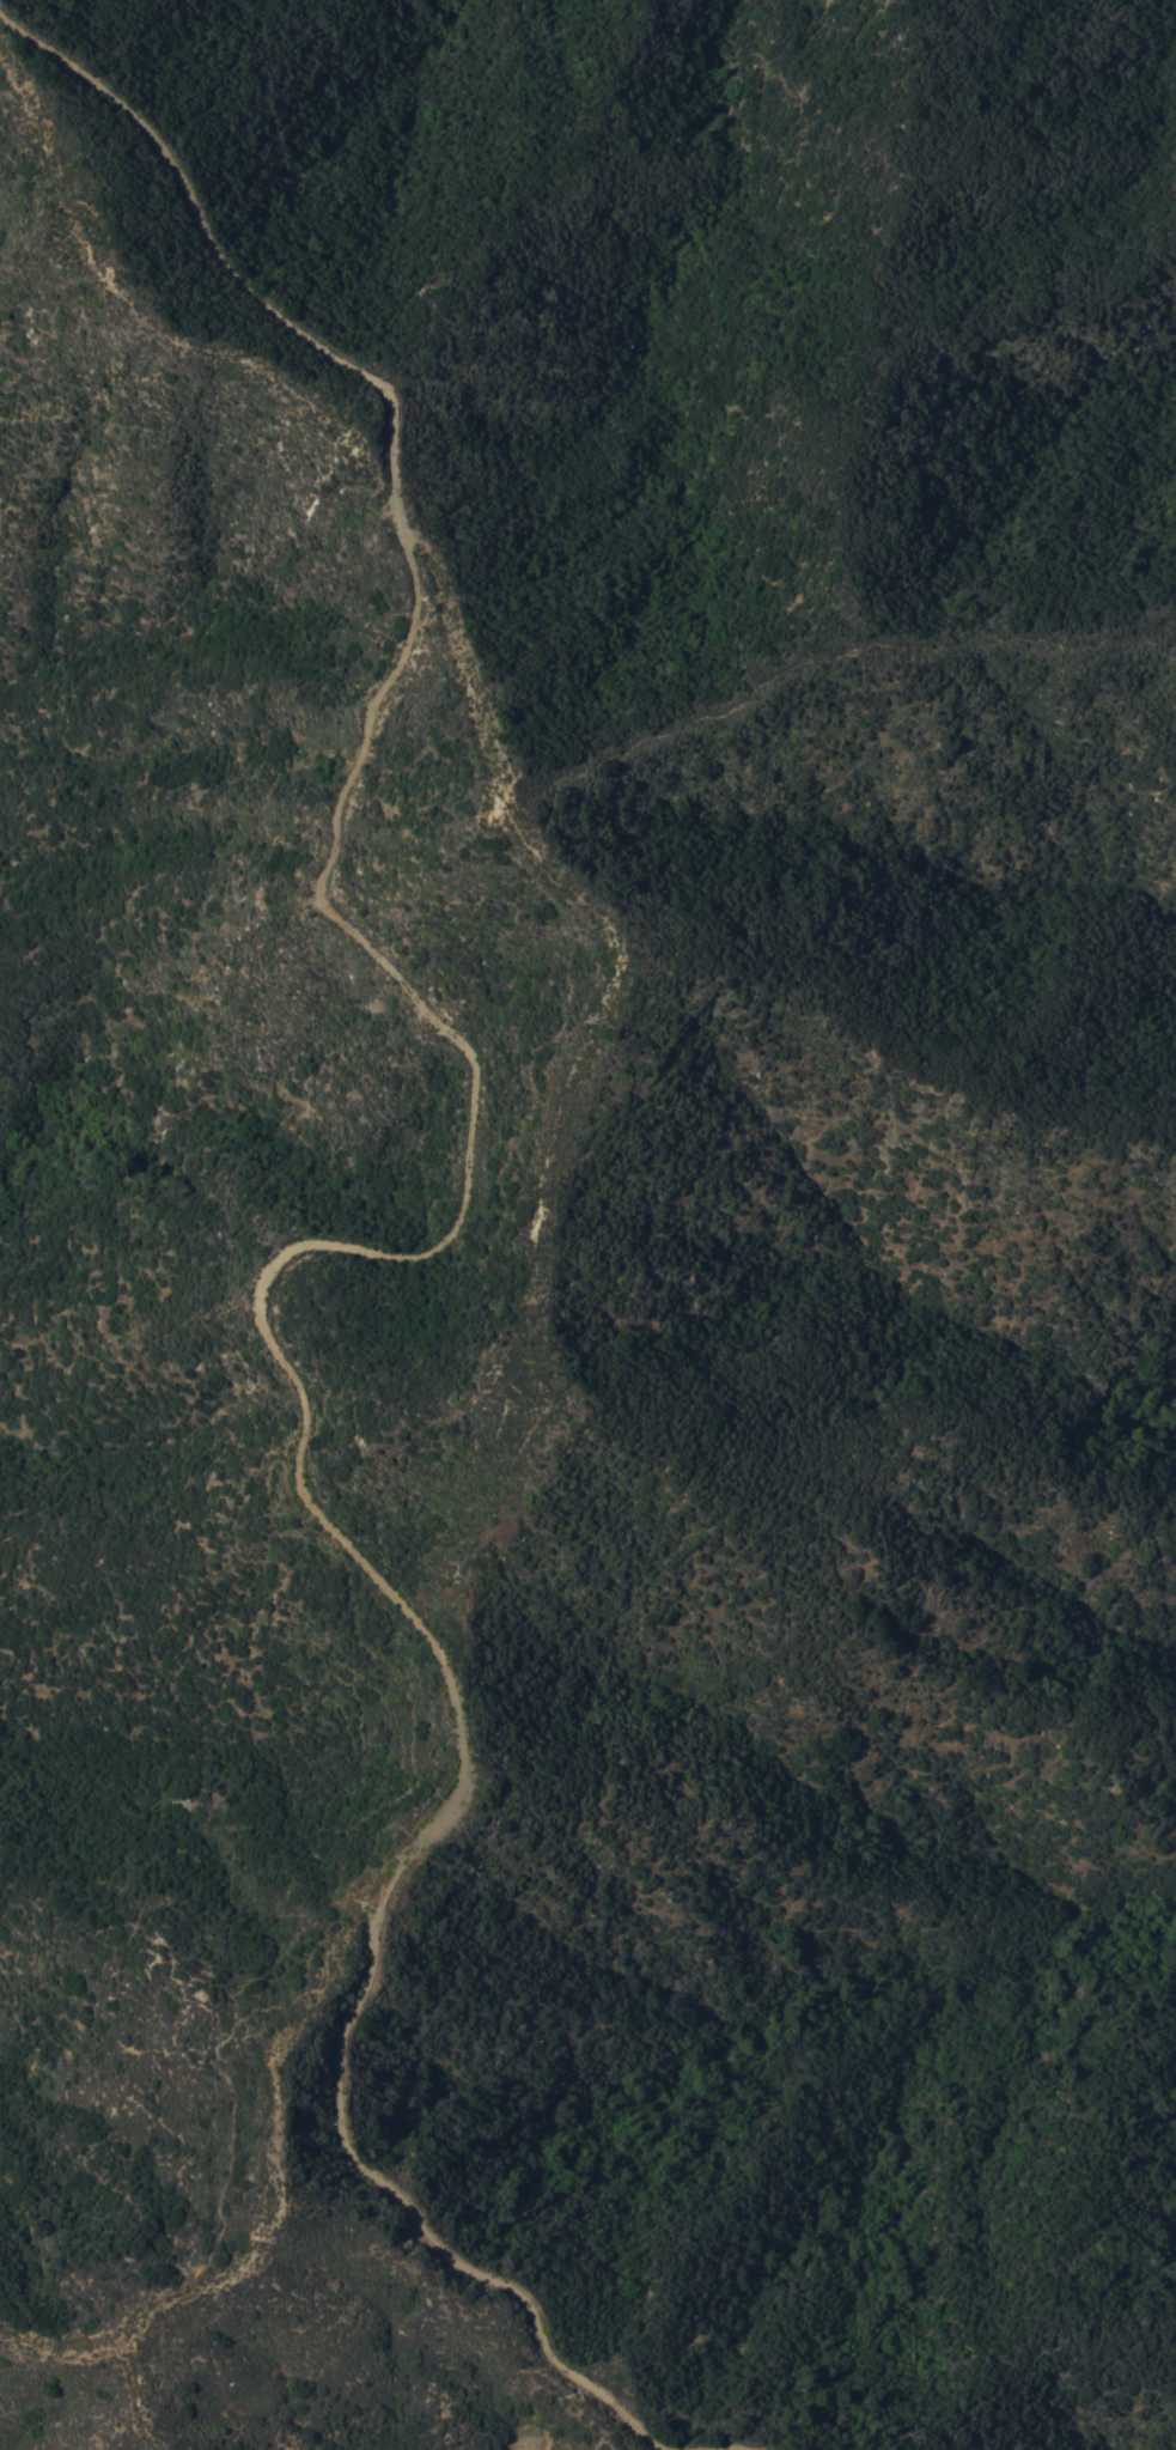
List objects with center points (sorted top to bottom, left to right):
road: (567, 1063)
road: (336, 1241)

